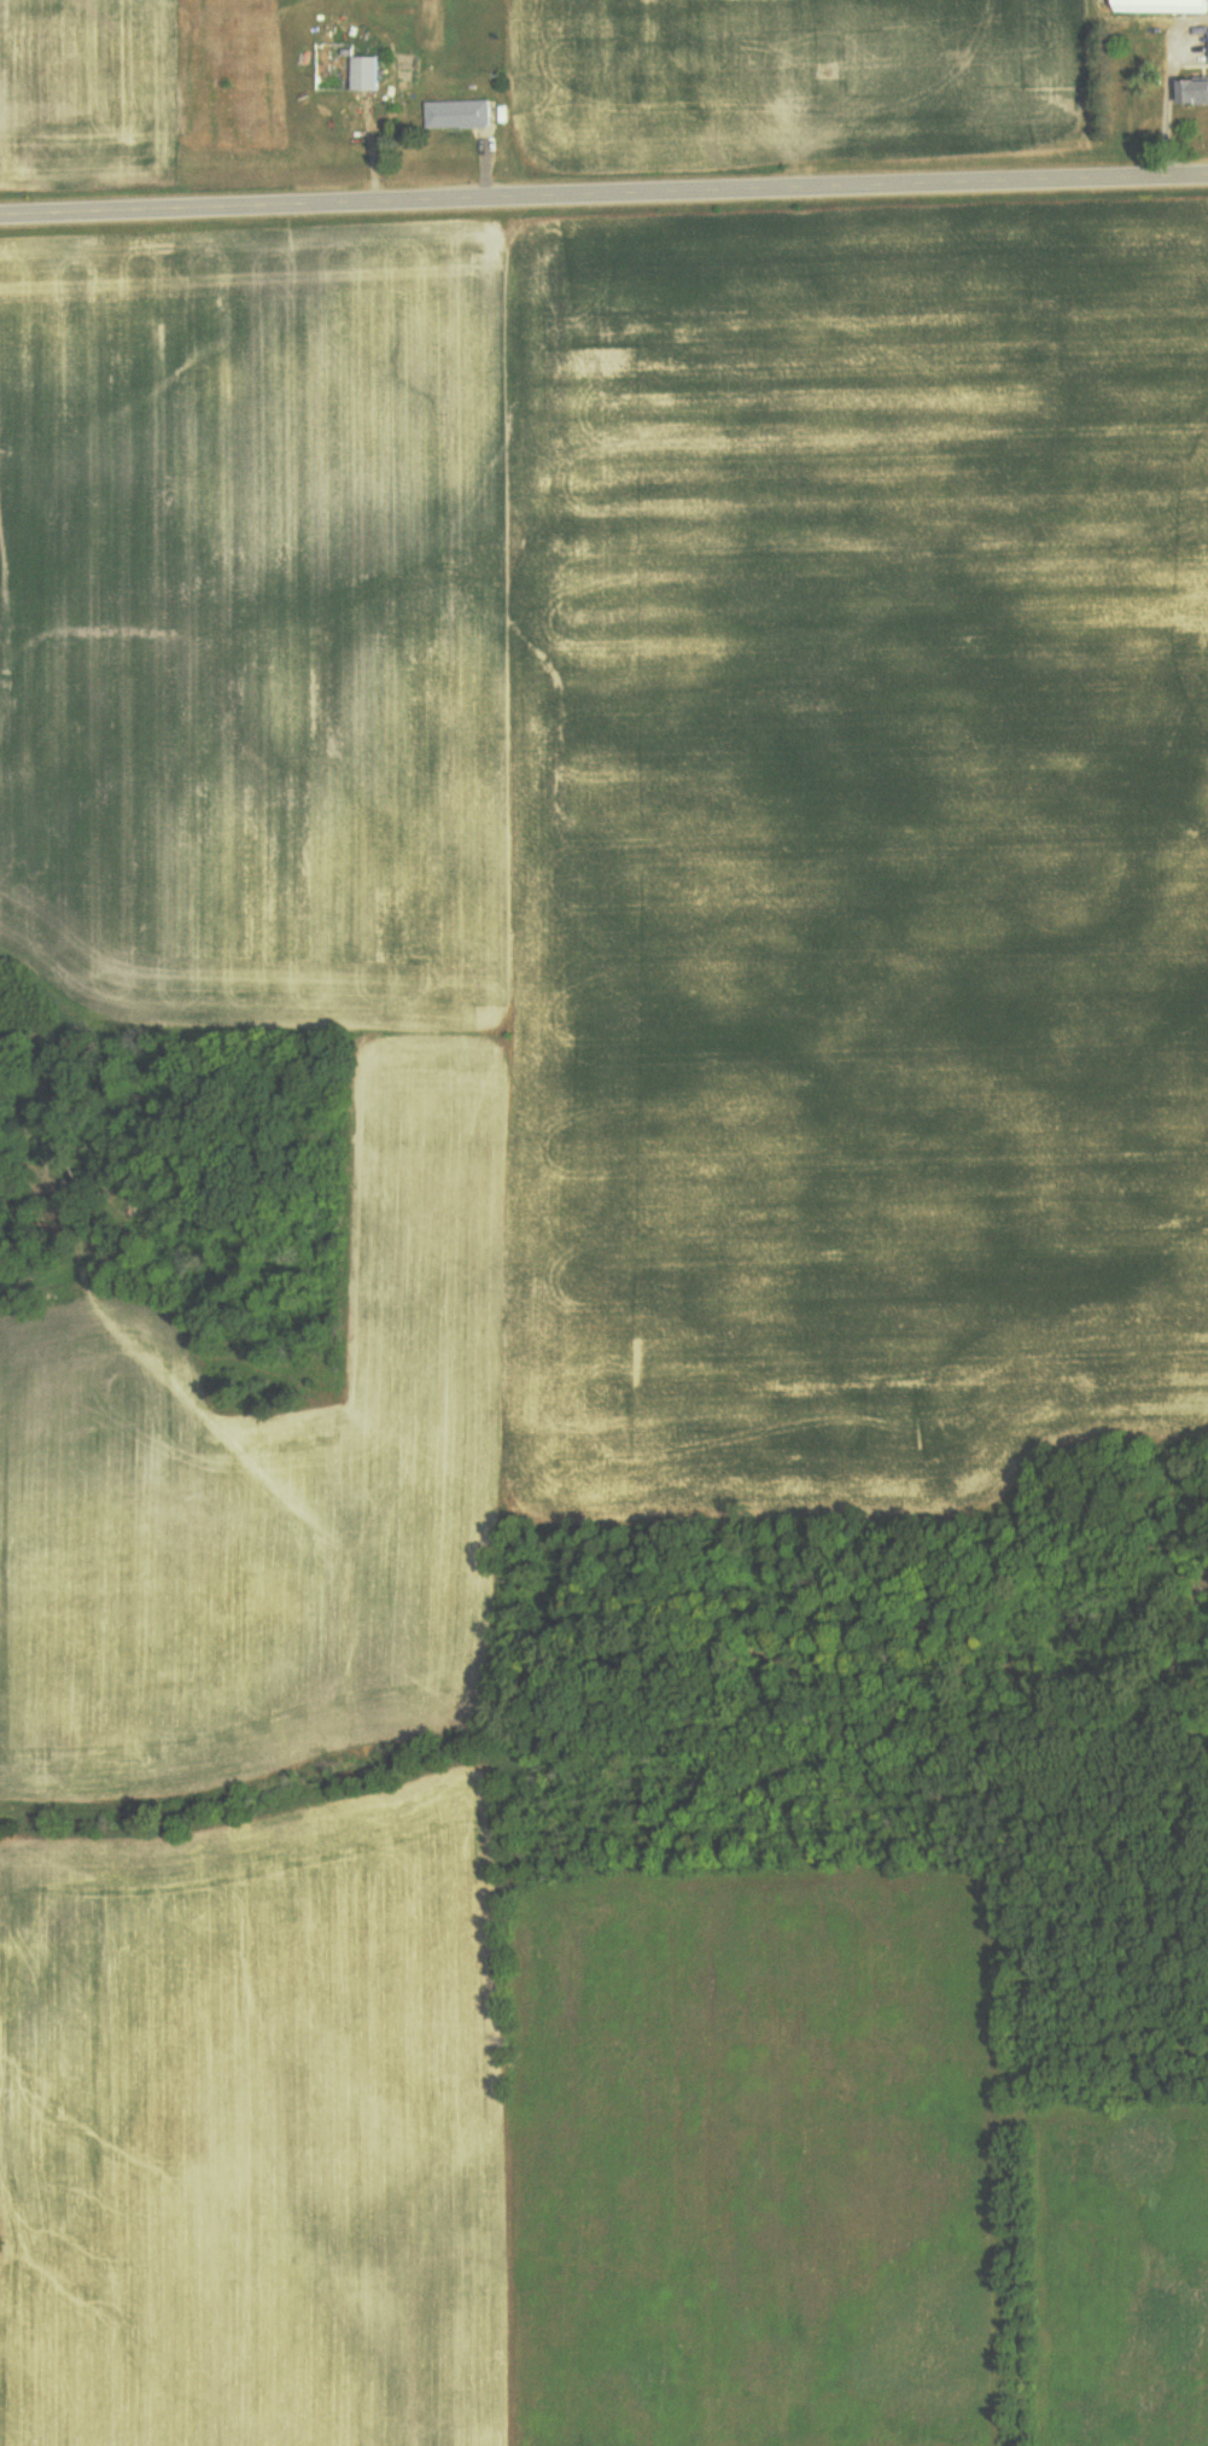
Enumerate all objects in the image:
building: (1165, 6)
building: (366, 74)
crop: (793, 81)
building: (1195, 81)
crop: (87, 98)
building: (460, 113)
road: (603, 198)
crop: (256, 625)
crop: (856, 854)
crop: (272, 1475)
crop: (257, 2132)

